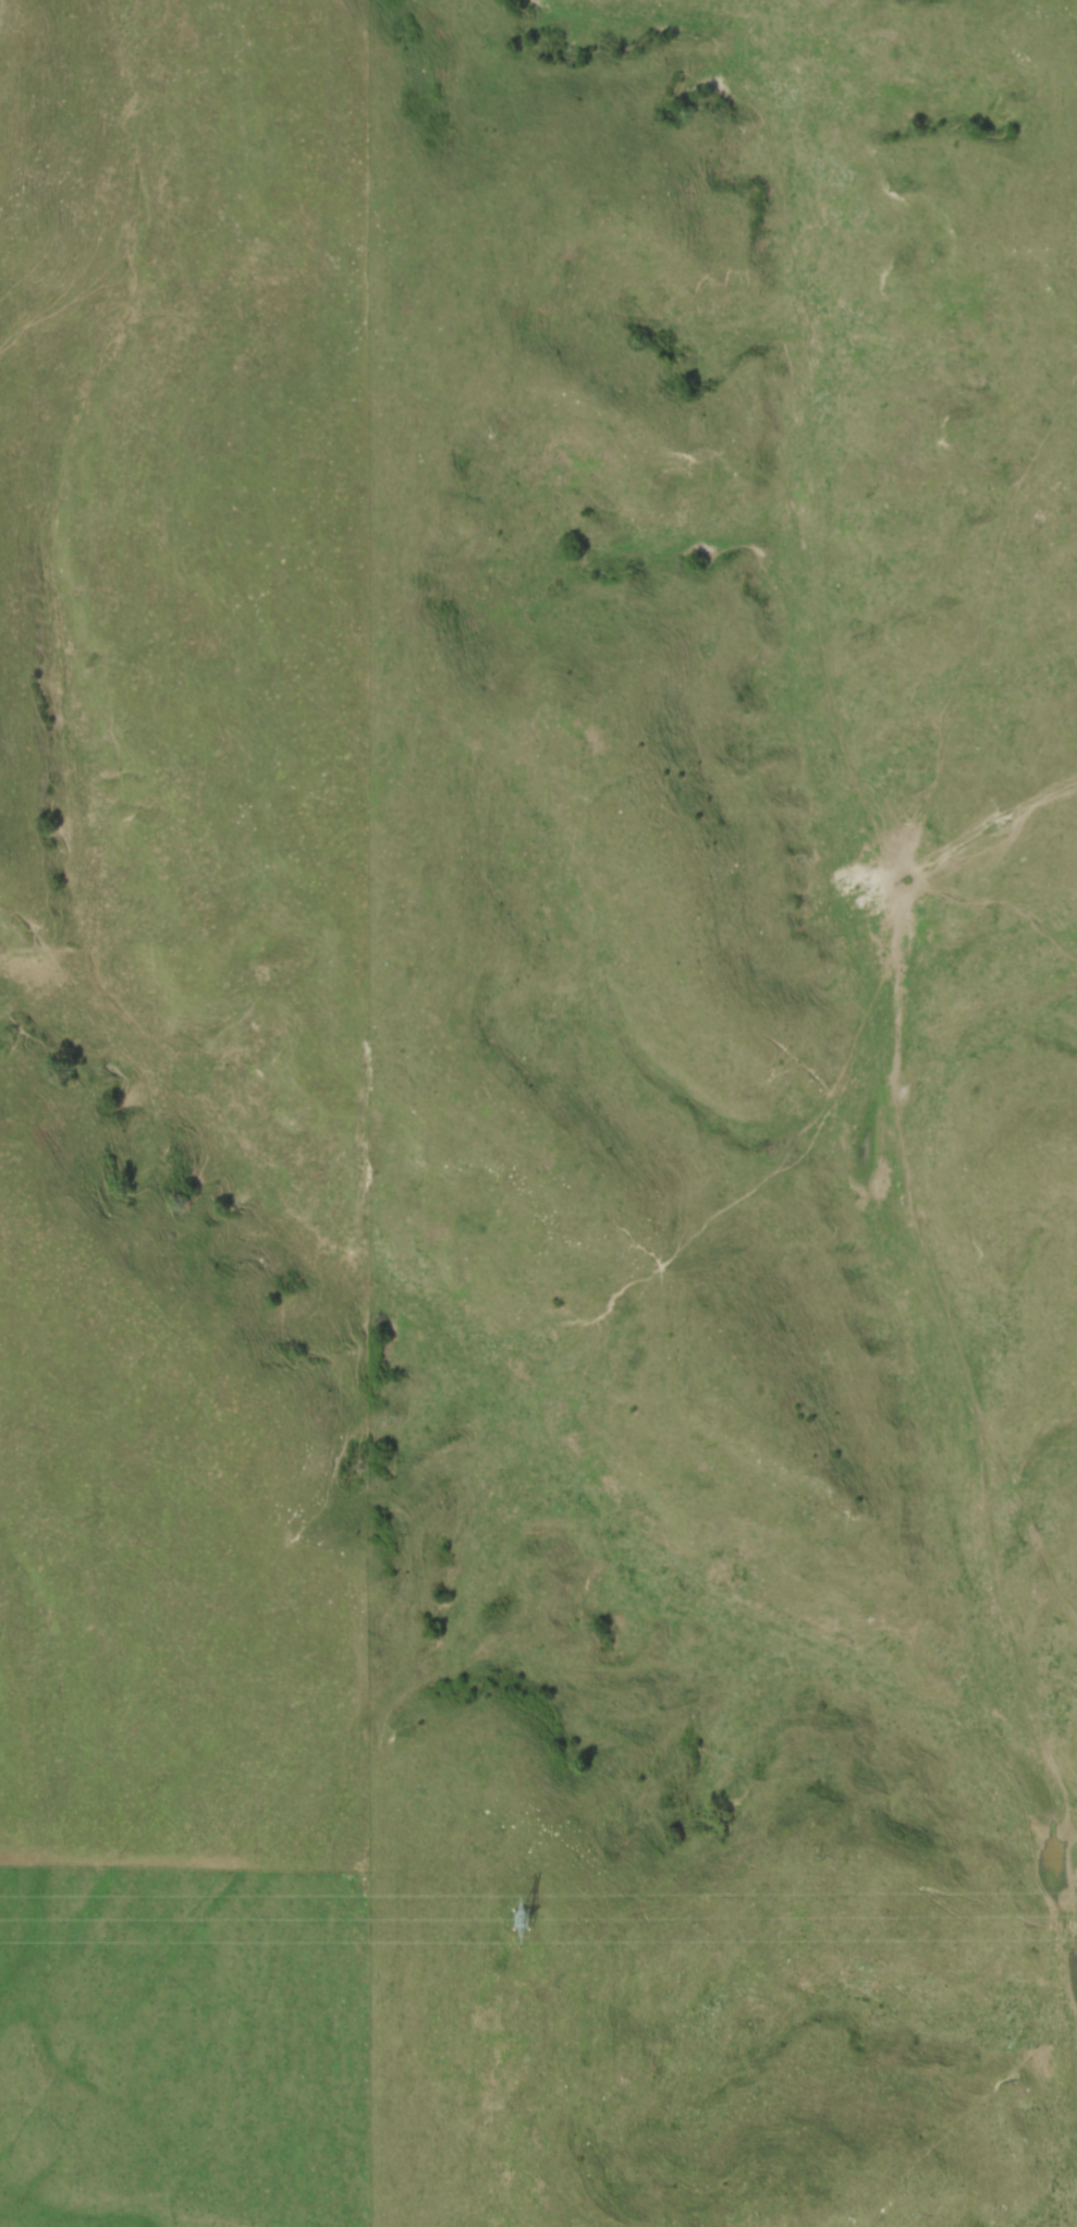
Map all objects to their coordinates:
power tower: (519, 1920)

